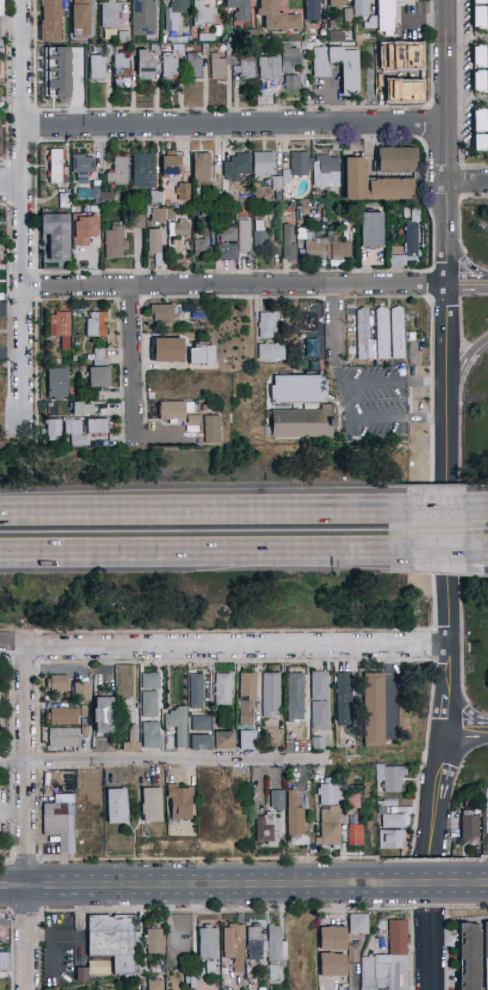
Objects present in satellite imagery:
building: (480, 1)
building: (337, 3)
building: (238, 9)
building: (360, 9)
building: (312, 10)
building: (173, 13)
building: (111, 14)
building: (204, 14)
building: (386, 14)
building: (143, 17)
building: (277, 17)
building: (480, 17)
building: (81, 18)
building: (50, 21)
building: (1, 27)
building: (336, 37)
building: (480, 56)
building: (291, 58)
building: (71, 61)
building: (145, 62)
building: (170, 66)
building: (194, 66)
building: (218, 66)
building: (55, 67)
building: (97, 67)
building: (246, 68)
building: (120, 69)
building: (349, 70)
building: (269, 72)
building: (291, 82)
building: (480, 82)
road: (334, 106)
building: (480, 121)
road: (234, 126)
building: (480, 144)
building: (397, 160)
building: (262, 164)
building: (300, 164)
building: (81, 165)
building: (56, 166)
building: (169, 166)
building: (201, 166)
building: (236, 166)
building: (143, 170)
building: (327, 171)
building: (118, 172)
road: (467, 182)
building: (373, 184)
road: (11, 187)
building: (182, 192)
road: (446, 194)
building: (103, 197)
building: (244, 199)
building: (64, 201)
road: (23, 216)
building: (158, 216)
building: (136, 221)
building: (180, 227)
building: (83, 229)
building: (372, 229)
building: (259, 233)
building: (410, 234)
building: (56, 235)
building: (244, 236)
building: (153, 241)
building: (115, 242)
building: (289, 243)
building: (226, 244)
building: (201, 248)
building: (315, 248)
building: (341, 249)
road: (463, 262)
road: (459, 275)
road: (463, 278)
road: (485, 278)
road: (234, 287)
road: (466, 293)
road: (430, 300)
building: (187, 306)
building: (161, 314)
road: (332, 323)
building: (95, 324)
road: (460, 324)
building: (267, 325)
building: (60, 329)
building: (390, 333)
building: (364, 334)
building: (310, 348)
building: (167, 350)
building: (271, 352)
road: (469, 353)
building: (100, 355)
building: (201, 355)
road: (463, 360)
road: (128, 362)
building: (97, 377)
building: (165, 383)
building: (56, 385)
building: (297, 389)
road: (431, 393)
building: (82, 409)
building: (173, 409)
building: (191, 419)
road: (460, 419)
building: (301, 424)
building: (97, 426)
building: (52, 428)
building: (75, 435)
road: (486, 493)
road: (436, 498)
road: (340, 507)
road: (486, 507)
road: (436, 509)
road: (340, 511)
road: (146, 514)
road: (432, 529)
road: (460, 530)
road: (483, 553)
road: (434, 554)
road: (348, 555)
road: (153, 556)
road: (348, 560)
road: (437, 570)
road: (486, 574)
road: (433, 603)
road: (235, 632)
road: (461, 639)
road: (11, 643)
road: (236, 645)
road: (434, 645)
road: (36, 647)
road: (5, 653)
road: (22, 659)
road: (235, 661)
building: (124, 679)
building: (57, 683)
road: (388, 684)
building: (223, 689)
road: (448, 689)
building: (80, 690)
building: (196, 690)
building: (150, 695)
building: (271, 695)
building: (295, 696)
building: (247, 698)
building: (344, 699)
building: (319, 700)
road: (459, 701)
road: (463, 704)
road: (9, 706)
road: (37, 708)
building: (373, 710)
building: (64, 715)
building: (104, 716)
building: (201, 723)
road: (484, 723)
building: (177, 724)
road: (463, 724)
road: (460, 735)
building: (143, 737)
building: (64, 738)
building: (224, 740)
building: (246, 740)
road: (467, 740)
building: (200, 743)
road: (161, 758)
road: (456, 758)
road: (422, 759)
road: (38, 760)
road: (9, 763)
building: (392, 777)
road: (455, 779)
building: (351, 798)
building: (276, 800)
building: (179, 802)
building: (151, 805)
building: (116, 806)
road: (10, 812)
building: (58, 812)
road: (38, 814)
building: (330, 814)
building: (294, 816)
building: (394, 817)
road: (26, 818)
road: (447, 826)
building: (469, 828)
building: (264, 829)
building: (356, 835)
building: (391, 840)
road: (25, 856)
road: (483, 857)
road: (8, 859)
road: (207, 859)
road: (376, 859)
road: (429, 860)
road: (412, 883)
road: (446, 883)
road: (435, 885)
road: (482, 885)
road: (196, 886)
road: (428, 905)
road: (482, 907)
road: (374, 908)
road: (485, 908)
road: (202, 910)
road: (5, 912)
road: (24, 915)
building: (357, 924)
road: (38, 931)
building: (207, 939)
building: (331, 939)
building: (112, 940)
building: (486, 940)
building: (155, 941)
building: (255, 942)
building: (233, 945)
road: (411, 950)
road: (445, 950)
road: (10, 951)
building: (275, 951)
building: (470, 956)
building: (4, 959)
building: (388, 962)
building: (207, 965)
building: (331, 965)
road: (39, 966)
building: (96, 966)
building: (155, 985)

